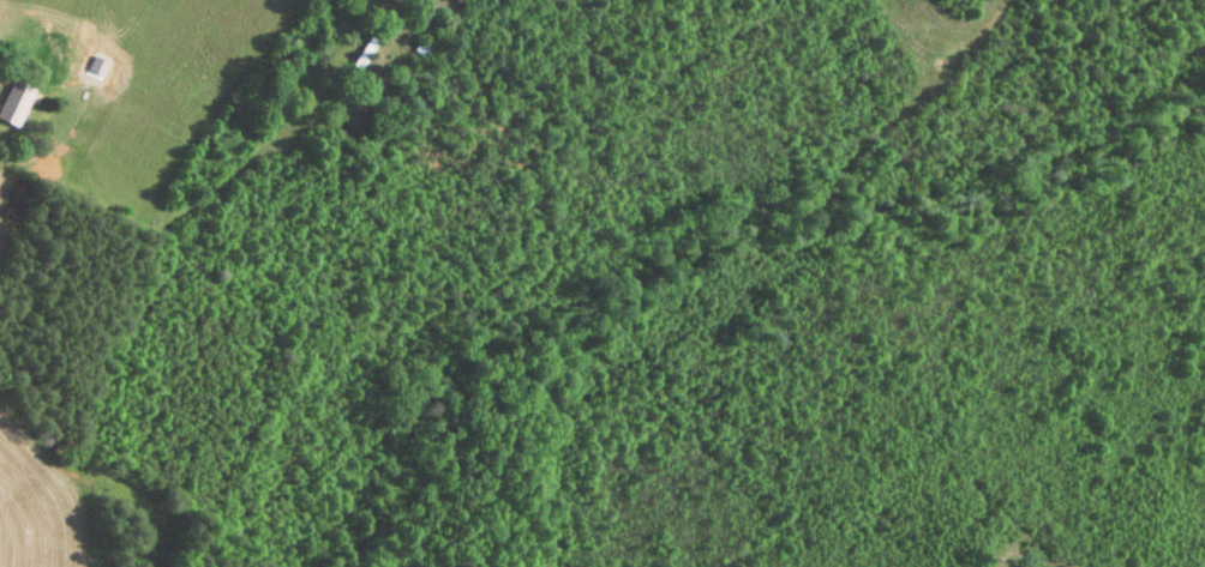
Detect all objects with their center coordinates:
building: (18, 103)

